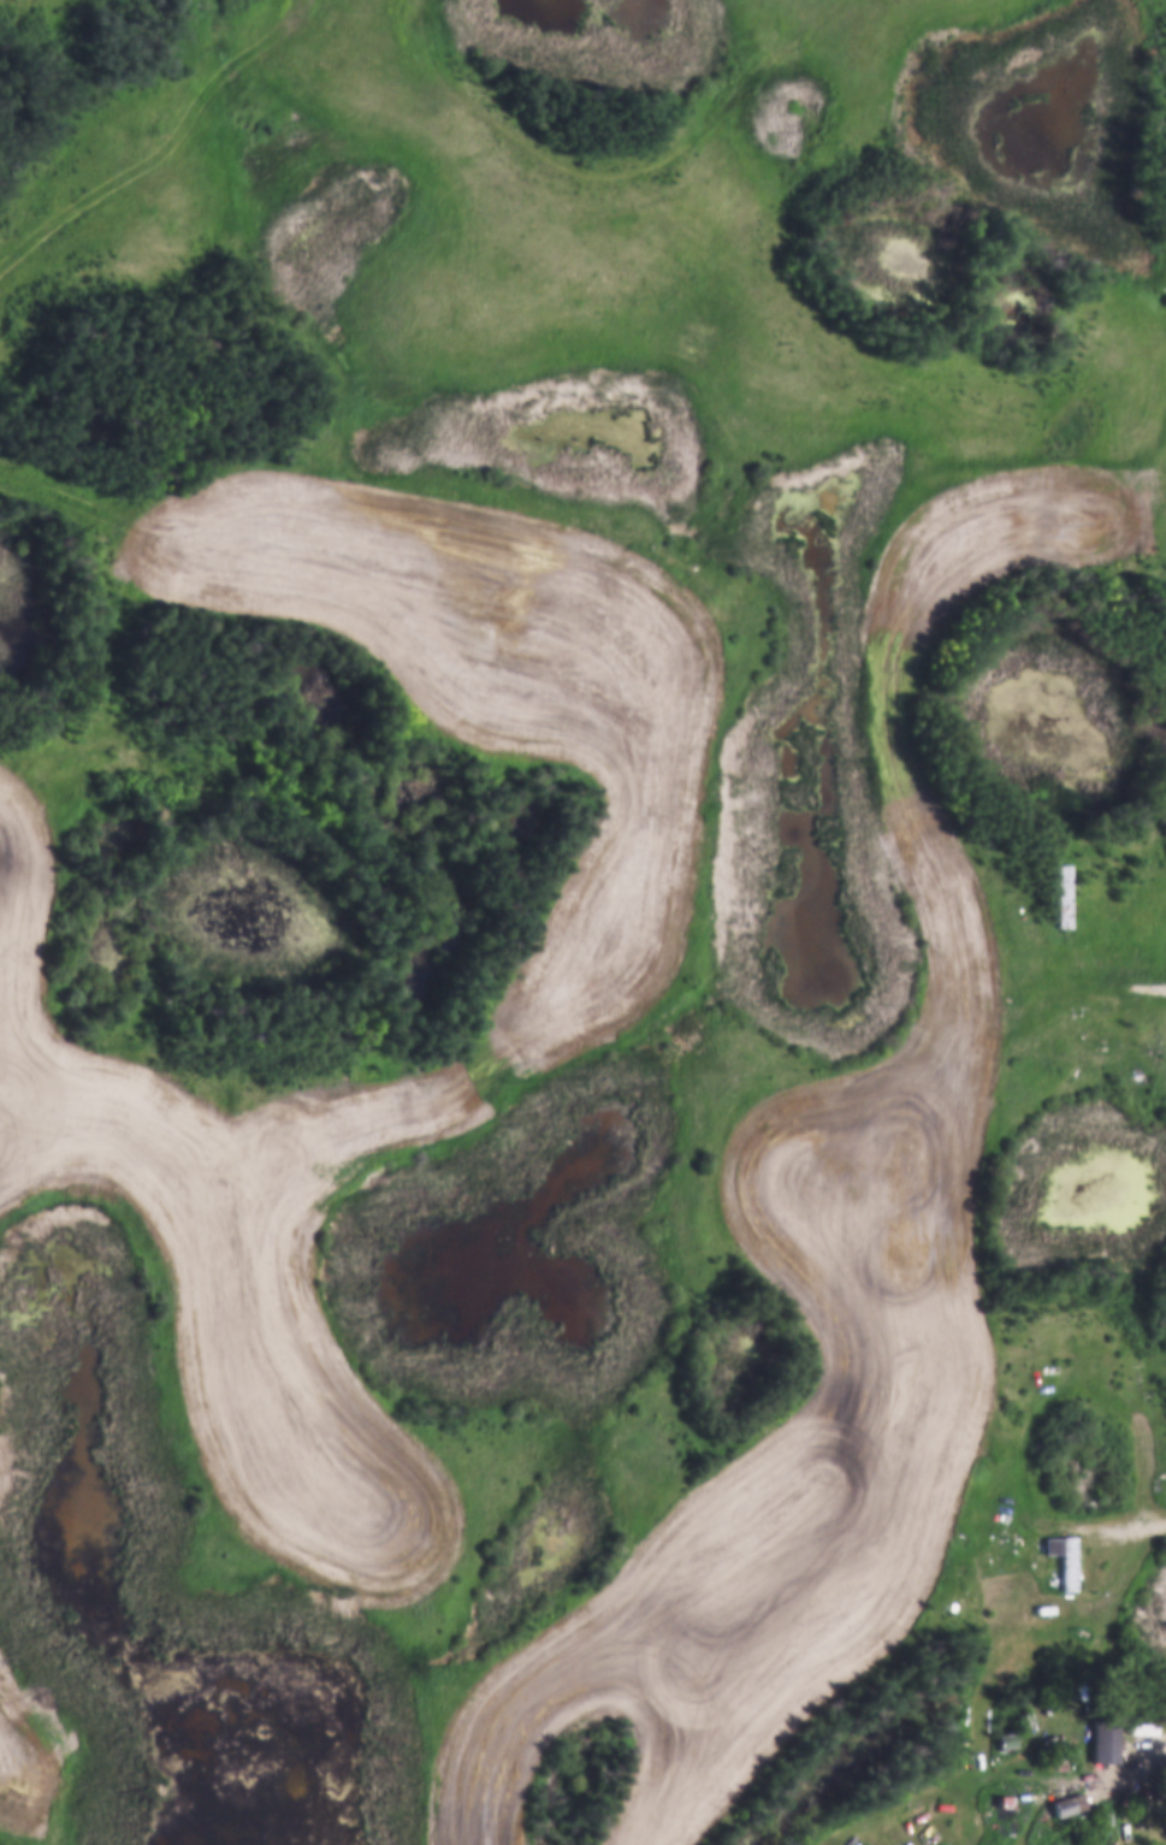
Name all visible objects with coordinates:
building: (1063, 893)
road: (1126, 935)
building: (1101, 1021)
building: (1024, 1574)
building: (1022, 1717)
building: (1005, 1737)
building: (1102, 1740)
building: (1002, 1743)
building: (1002, 1798)
building: (1066, 1802)

